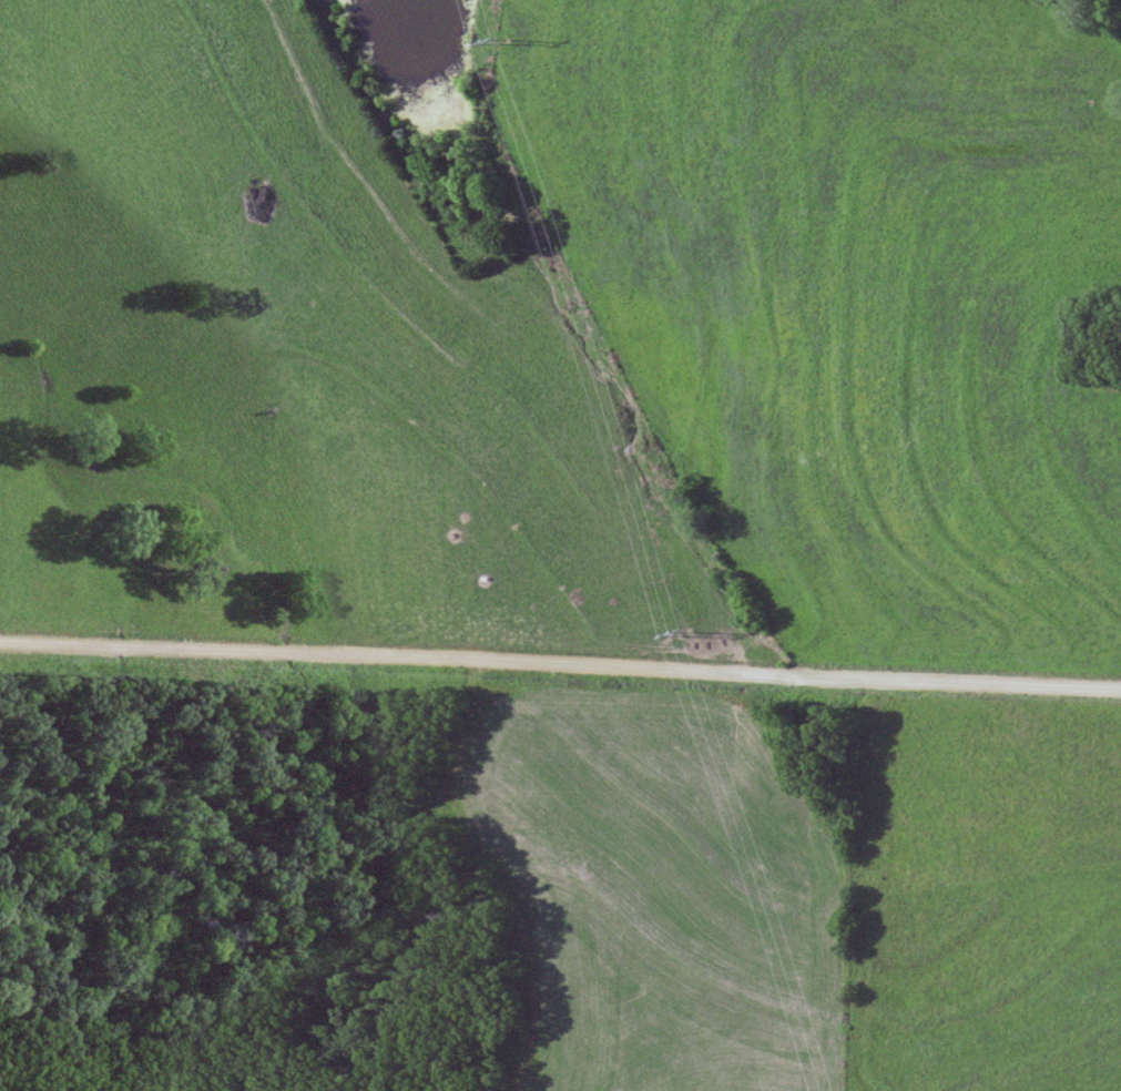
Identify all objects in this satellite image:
road: (560, 662)

